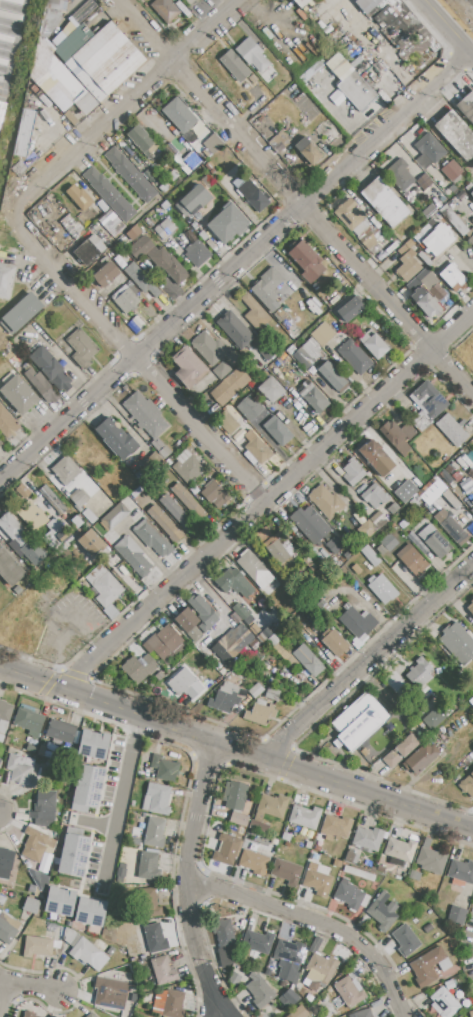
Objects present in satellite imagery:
building: (66, 0)
building: (301, 3)
building: (366, 4)
building: (55, 5)
building: (165, 9)
building: (50, 22)
building: (71, 26)
road: (447, 27)
building: (403, 31)
building: (73, 43)
building: (253, 55)
building: (104, 62)
building: (235, 66)
building: (253, 79)
building: (57, 81)
building: (357, 91)
building: (466, 106)
road: (124, 108)
building: (179, 115)
building: (23, 132)
building: (456, 134)
building: (281, 139)
building: (141, 141)
building: (212, 144)
building: (307, 150)
building: (428, 151)
building: (451, 170)
building: (129, 174)
building: (400, 175)
building: (172, 176)
building: (423, 182)
building: (163, 187)
building: (469, 188)
building: (471, 194)
building: (109, 195)
building: (254, 195)
building: (79, 197)
road: (295, 197)
building: (192, 201)
building: (384, 202)
road: (301, 206)
building: (428, 211)
building: (232, 217)
building: (352, 217)
building: (437, 218)
building: (453, 219)
building: (110, 223)
building: (73, 226)
building: (165, 229)
building: (132, 233)
building: (422, 233)
building: (470, 235)
road: (212, 238)
building: (438, 239)
building: (97, 243)
building: (409, 244)
building: (86, 252)
building: (196, 254)
building: (424, 258)
building: (160, 260)
building: (306, 261)
building: (372, 263)
building: (408, 266)
building: (106, 274)
building: (421, 277)
building: (454, 277)
building: (6, 280)
building: (141, 280)
building: (427, 280)
building: (272, 289)
building: (125, 299)
building: (426, 302)
building: (350, 310)
building: (22, 313)
building: (255, 313)
building: (281, 313)
building: (234, 329)
building: (323, 334)
building: (371, 342)
building: (81, 347)
building: (210, 347)
building: (267, 354)
building: (308, 354)
building: (354, 357)
road: (135, 360)
building: (188, 367)
building: (51, 369)
building: (221, 371)
building: (332, 375)
building: (39, 383)
building: (229, 386)
building: (270, 393)
building: (19, 394)
building: (314, 398)
building: (430, 400)
building: (249, 408)
building: (145, 414)
road: (65, 418)
building: (227, 422)
building: (7, 423)
building: (421, 423)
building: (451, 430)
building: (278, 432)
building: (398, 435)
building: (115, 438)
building: (0, 443)
building: (257, 447)
building: (93, 456)
building: (375, 457)
building: (152, 462)
building: (188, 466)
building: (66, 470)
building: (352, 473)
building: (110, 485)
building: (404, 491)
building: (212, 492)
building: (432, 492)
building: (373, 496)
road: (266, 497)
building: (50, 498)
building: (188, 501)
building: (326, 502)
building: (413, 503)
building: (472, 503)
building: (392, 509)
building: (177, 513)
building: (346, 514)
building: (31, 515)
building: (113, 517)
building: (377, 519)
building: (165, 524)
building: (310, 525)
building: (367, 528)
building: (453, 529)
building: (15, 531)
building: (426, 532)
building: (60, 533)
building: (152, 537)
building: (89, 542)
building: (417, 543)
building: (335, 545)
building: (437, 545)
building: (281, 550)
building: (133, 555)
building: (372, 558)
building: (414, 562)
building: (9, 568)
building: (254, 568)
building: (228, 579)
building: (104, 586)
building: (381, 587)
building: (17, 590)
road: (219, 605)
building: (470, 606)
building: (110, 612)
building: (241, 612)
building: (196, 618)
building: (472, 621)
building: (359, 623)
road: (58, 629)
building: (262, 637)
building: (273, 640)
building: (334, 642)
building: (166, 643)
building: (235, 643)
building: (458, 643)
road: (366, 659)
building: (308, 660)
building: (138, 667)
building: (419, 673)
building: (185, 684)
traffic signals: (63, 690)
building: (256, 690)
building: (272, 694)
building: (226, 697)
building: (260, 712)
building: (4, 714)
building: (434, 718)
building: (358, 720)
building: (29, 721)
building: (61, 731)
building: (93, 745)
road: (236, 747)
building: (31, 749)
building: (41, 750)
building: (400, 750)
building: (421, 758)
building: (0, 759)
building: (164, 768)
building: (20, 769)
building: (467, 784)
building: (87, 788)
building: (235, 795)
road: (119, 796)
building: (157, 799)
building: (44, 805)
building: (271, 807)
building: (305, 817)
building: (239, 819)
building: (336, 826)
building: (258, 827)
building: (235, 830)
building: (155, 832)
building: (286, 837)
building: (138, 842)
building: (363, 843)
building: (36, 844)
building: (308, 845)
building: (226, 849)
building: (74, 852)
building: (399, 852)
building: (431, 859)
building: (5, 862)
building: (254, 862)
building: (148, 866)
building: (380, 869)
building: (462, 871)
building: (286, 872)
building: (121, 873)
building: (414, 875)
building: (318, 880)
road: (189, 881)
building: (348, 894)
building: (364, 900)
building: (60, 902)
building: (152, 903)
building: (30, 906)
building: (382, 911)
building: (90, 912)
building: (457, 915)
road: (314, 922)
building: (7, 927)
building: (155, 938)
building: (405, 940)
building: (224, 941)
building: (258, 941)
building: (315, 945)
building: (37, 947)
building: (101, 947)
building: (80, 948)
building: (288, 959)
building: (444, 965)
building: (427, 966)
building: (163, 970)
building: (319, 971)
building: (234, 979)
building: (449, 985)
road: (27, 986)
building: (349, 989)
building: (260, 990)
building: (109, 994)
building: (290, 996)
road: (3, 998)
building: (445, 1002)
building: (173, 1004)
building: (299, 1012)
building: (471, 1013)
building: (361, 1014)
building: (91, 1015)
building: (28, 1016)

